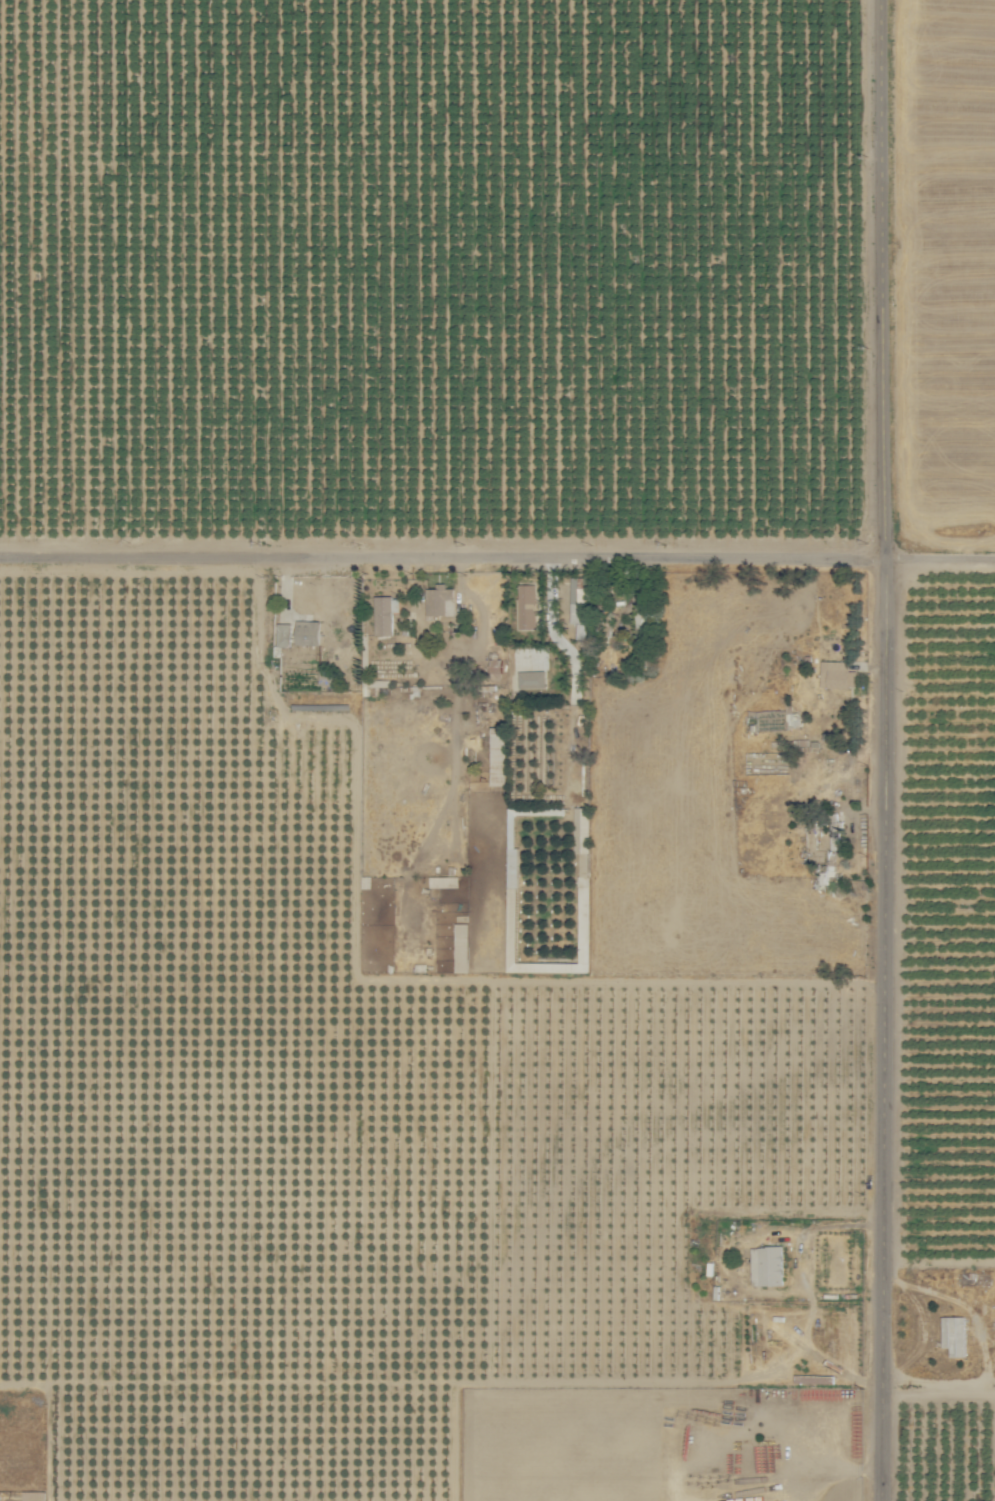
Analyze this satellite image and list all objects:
crop: (496, 259)
road: (896, 272)
road: (497, 545)
building: (440, 598)
building: (527, 604)
building: (384, 612)
building: (307, 630)
building: (284, 632)
building: (837, 673)
building: (531, 677)
building: (778, 717)
building: (498, 744)
building: (581, 822)
building: (812, 836)
building: (461, 945)
road: (897, 1022)
building: (767, 1264)
building: (954, 1334)
road: (944, 1386)

